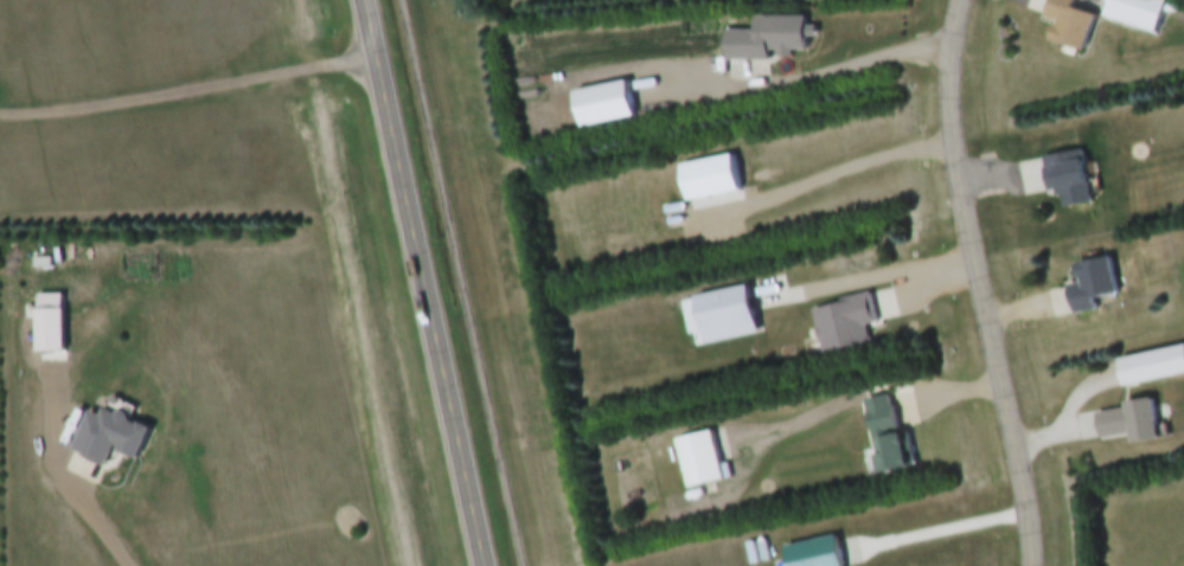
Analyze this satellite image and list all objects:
building: (1138, 14)
building: (1069, 25)
building: (768, 41)
road: (812, 71)
road: (190, 95)
building: (604, 105)
road: (857, 172)
building: (710, 180)
building: (1069, 180)
road: (876, 281)
road: (425, 282)
road: (460, 283)
road: (985, 283)
building: (1093, 288)
building: (727, 317)
building: (844, 326)
building: (1148, 367)
road: (881, 395)
building: (1124, 423)
building: (110, 438)
building: (878, 438)
building: (699, 463)
road: (945, 533)
building: (809, 553)

